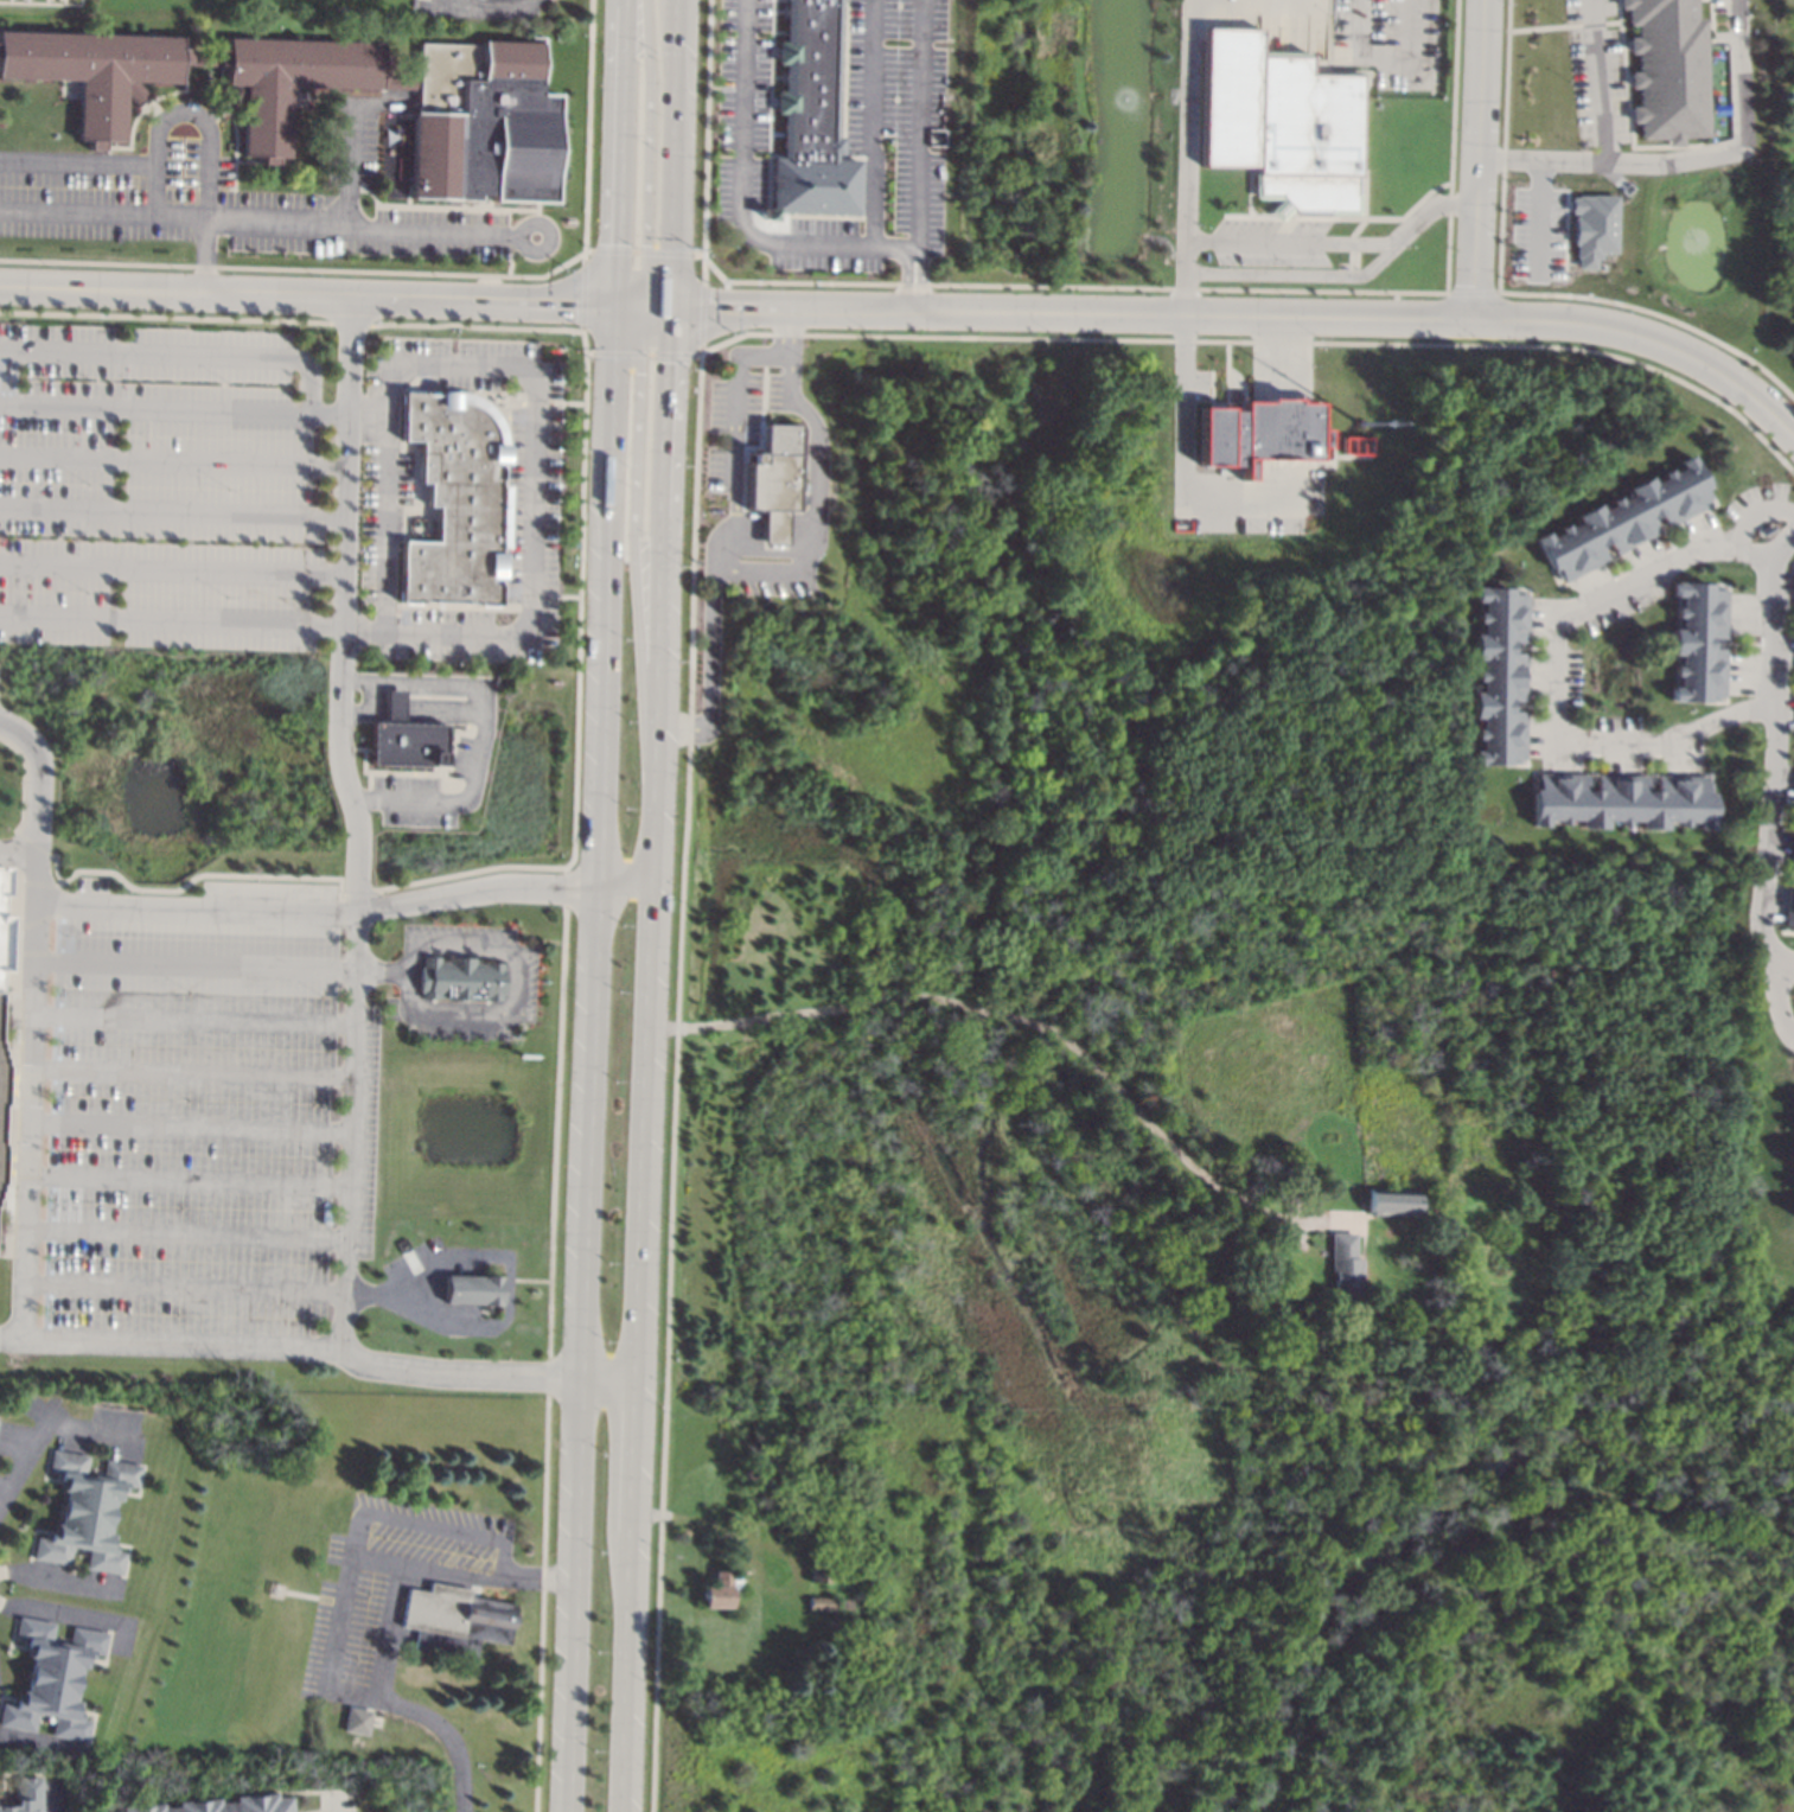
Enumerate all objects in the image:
road: (438, 4)
road: (486, 7)
parking lot: (1390, 42)
road: (1387, 50)
building: (1667, 69)
parking lot: (1597, 71)
road: (1598, 81)
building: (1718, 108)
building: (809, 117)
road: (870, 121)
building: (1278, 121)
building: (483, 126)
road: (914, 127)
road: (206, 135)
parking lot: (838, 136)
road: (356, 140)
road: (618, 154)
road: (676, 155)
road: (1194, 158)
road: (1687, 158)
road: (1485, 159)
road: (646, 161)
road: (78, 164)
road: (740, 178)
parking lot: (232, 202)
road: (1539, 217)
road: (258, 222)
building: (1592, 228)
road: (518, 242)
traffic signals: (615, 244)
traffic signals: (644, 244)
road: (1295, 244)
parking lot: (1272, 245)
road: (911, 263)
road: (1353, 276)
building: (1793, 281)
road: (306, 298)
traffic signals: (576, 307)
road: (643, 310)
traffic signals: (714, 312)
road: (1250, 318)
road: (786, 333)
road: (1281, 346)
road: (175, 351)
traffic signals: (672, 362)
traffic signals: (638, 372)
road: (733, 398)
road: (173, 403)
road: (1190, 407)
building: (1259, 433)
road: (172, 460)
road: (536, 478)
building: (773, 480)
parking lot: (158, 486)
building: (457, 500)
road: (1755, 502)
road: (171, 509)
building: (1623, 519)
road: (385, 521)
building: (1768, 525)
road: (811, 531)
road: (634, 540)
road: (171, 566)
building: (1792, 585)
road: (170, 615)
building: (1793, 638)
building: (1694, 639)
road: (708, 664)
building: (1793, 668)
building: (1498, 672)
road: (1557, 675)
road: (436, 682)
road: (409, 702)
road: (422, 715)
road: (655, 729)
building: (402, 738)
road: (1771, 784)
building: (1617, 799)
building: (1793, 799)
road: (443, 805)
road: (355, 824)
building: (1790, 848)
road: (15, 854)
building: (1, 876)
road: (473, 886)
road: (624, 886)
building: (1788, 905)
road: (192, 908)
building: (1, 938)
road: (1787, 959)
road: (192, 963)
road: (382, 968)
building: (461, 980)
road: (511, 993)
road: (996, 1013)
road: (191, 1019)
road: (27, 1025)
road: (589, 1059)
road: (649, 1061)
road: (190, 1072)
building: (1, 1084)
building: (1792, 1108)
parking lot: (193, 1121)
road: (189, 1125)
building: (0, 1155)
building: (1792, 1162)
road: (187, 1180)
building: (1290, 1202)
building: (1393, 1202)
building: (1442, 1230)
road: (187, 1233)
building: (1343, 1264)
road: (511, 1283)
road: (208, 1288)
building: (475, 1289)
road: (292, 1350)
road: (609, 1382)
road: (44, 1427)
building: (85, 1511)
road: (363, 1519)
building: (682, 1531)
building: (783, 1531)
building: (818, 1569)
road: (538, 1578)
road: (51, 1580)
parking lot: (392, 1588)
building: (719, 1589)
building: (828, 1603)
road: (58, 1615)
building: (455, 1619)
park: (1304, 1626)
road: (391, 1629)
road: (338, 1648)
building: (51, 1678)
building: (355, 1721)
road: (449, 1740)
building: (25, 1795)
road: (332, 1804)
building: (221, 1805)
road: (55, 1806)

